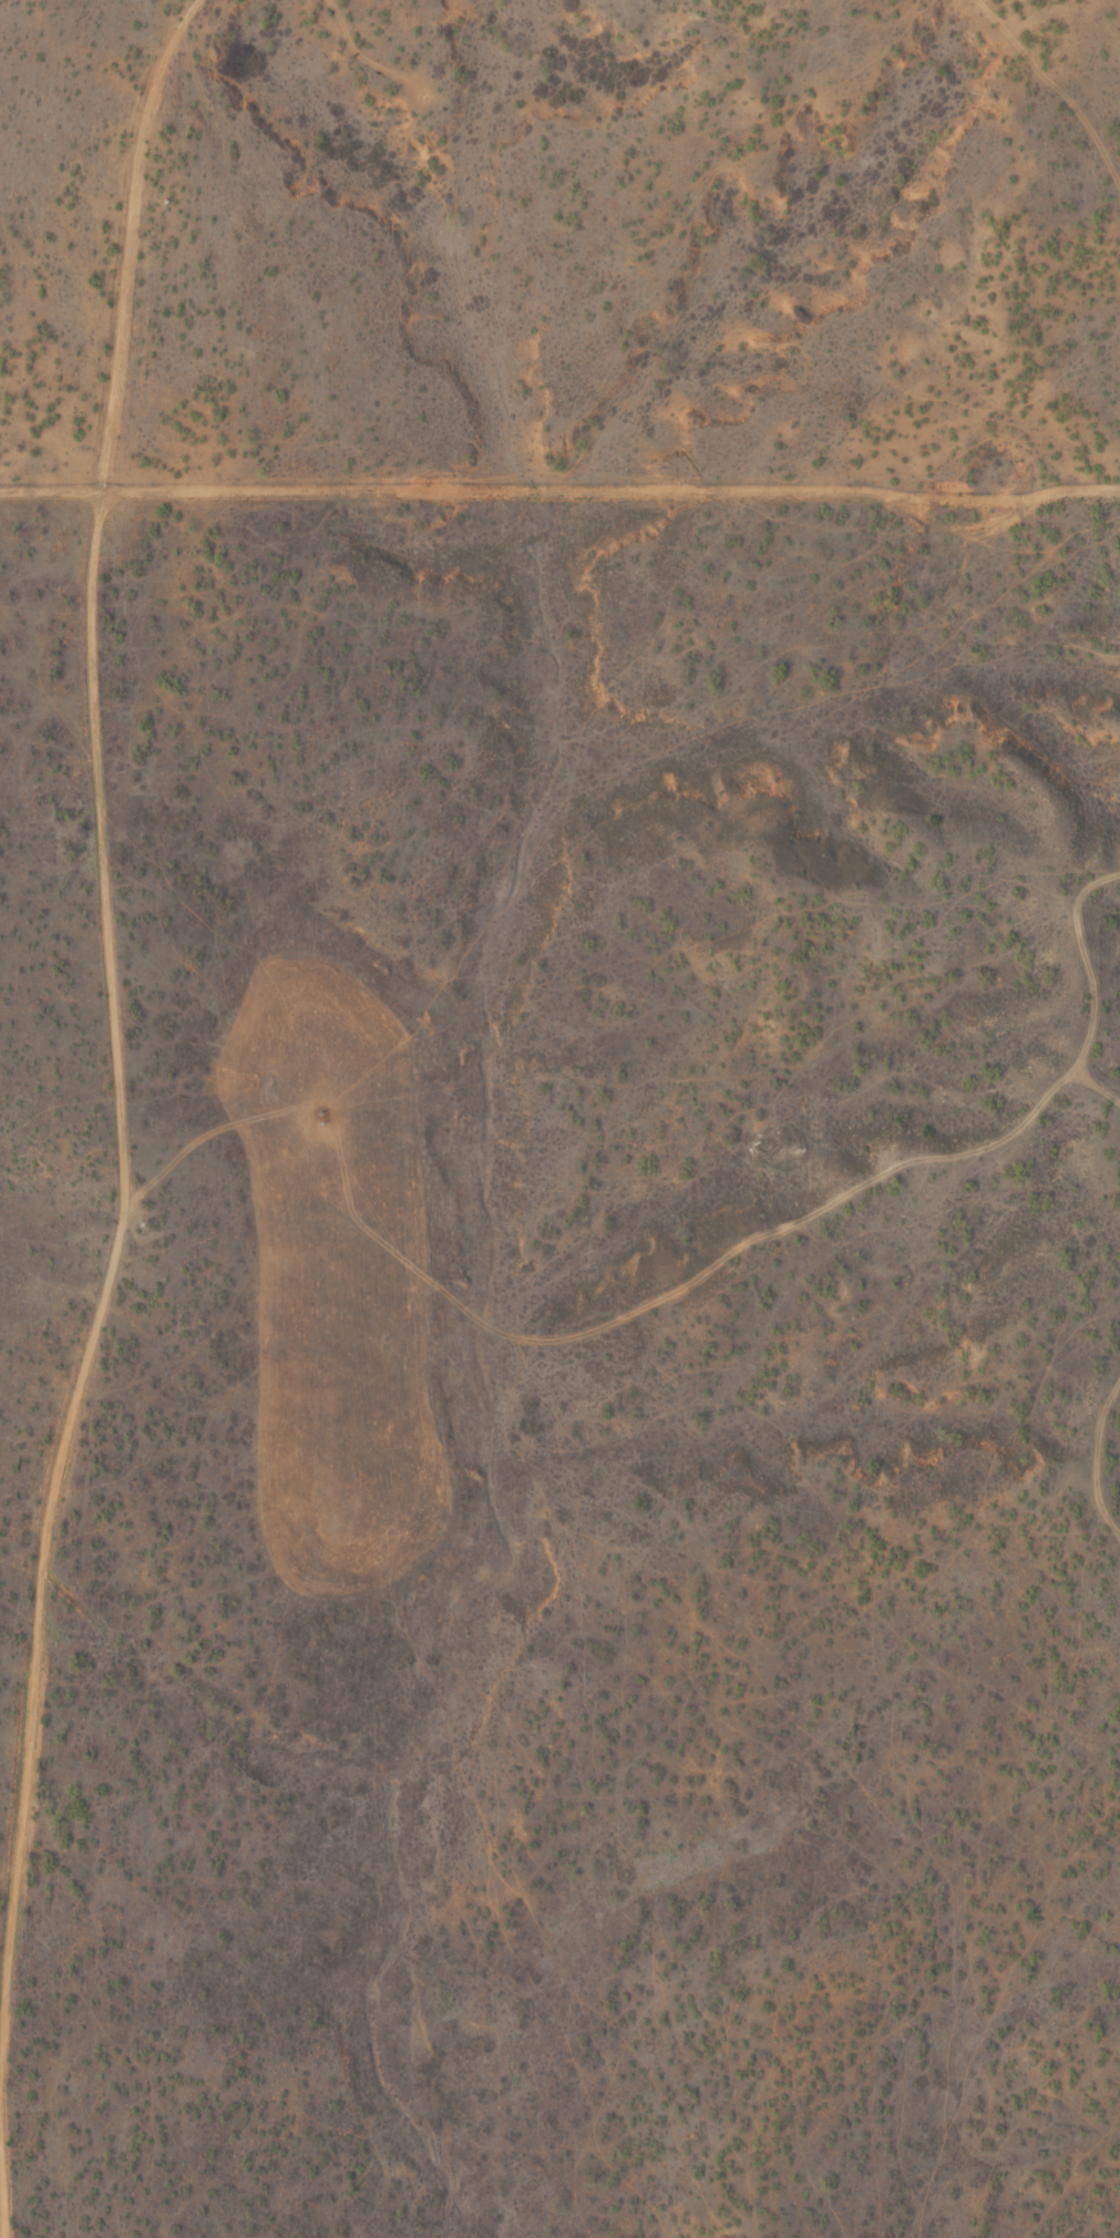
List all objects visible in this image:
road: (93, 923)

